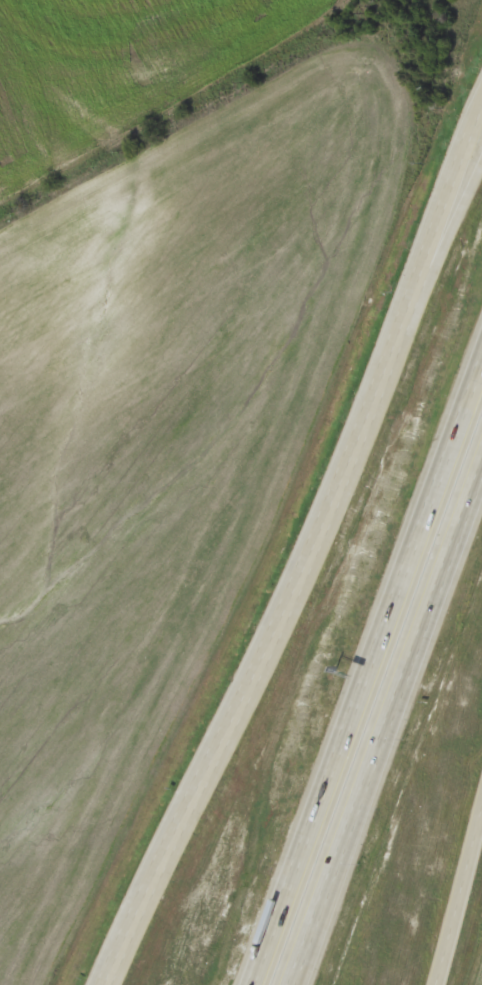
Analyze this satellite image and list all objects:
road: (430, 278)
road: (309, 551)
road: (366, 666)
road: (386, 722)
road: (456, 889)

